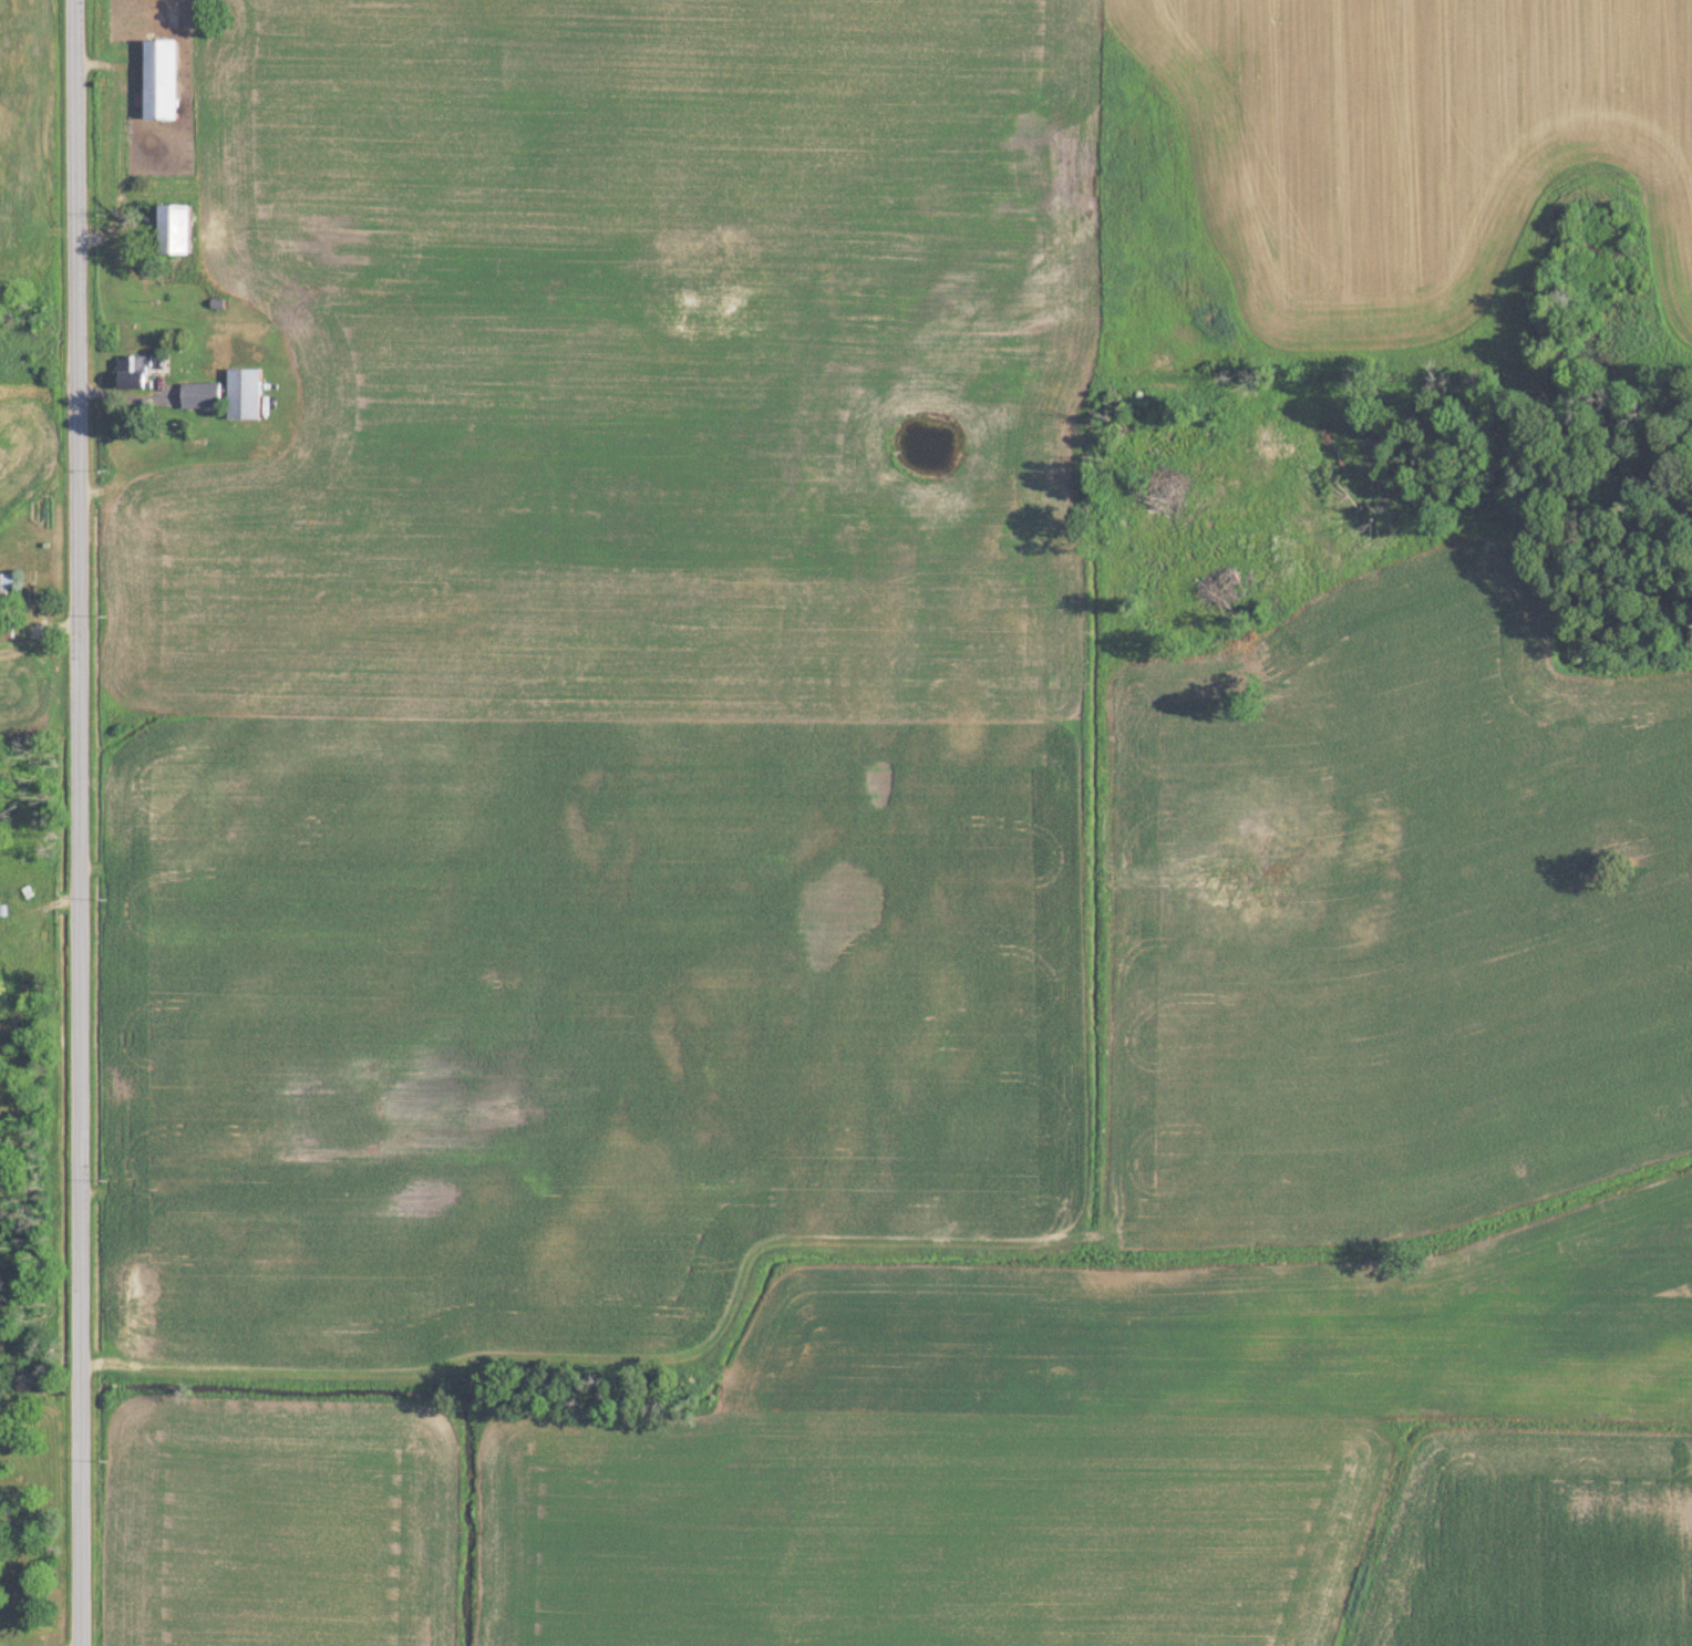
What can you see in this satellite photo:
building: (163, 79)
building: (177, 228)
building: (134, 371)
building: (245, 393)
building: (203, 394)
building: (7, 589)
road: (79, 822)

